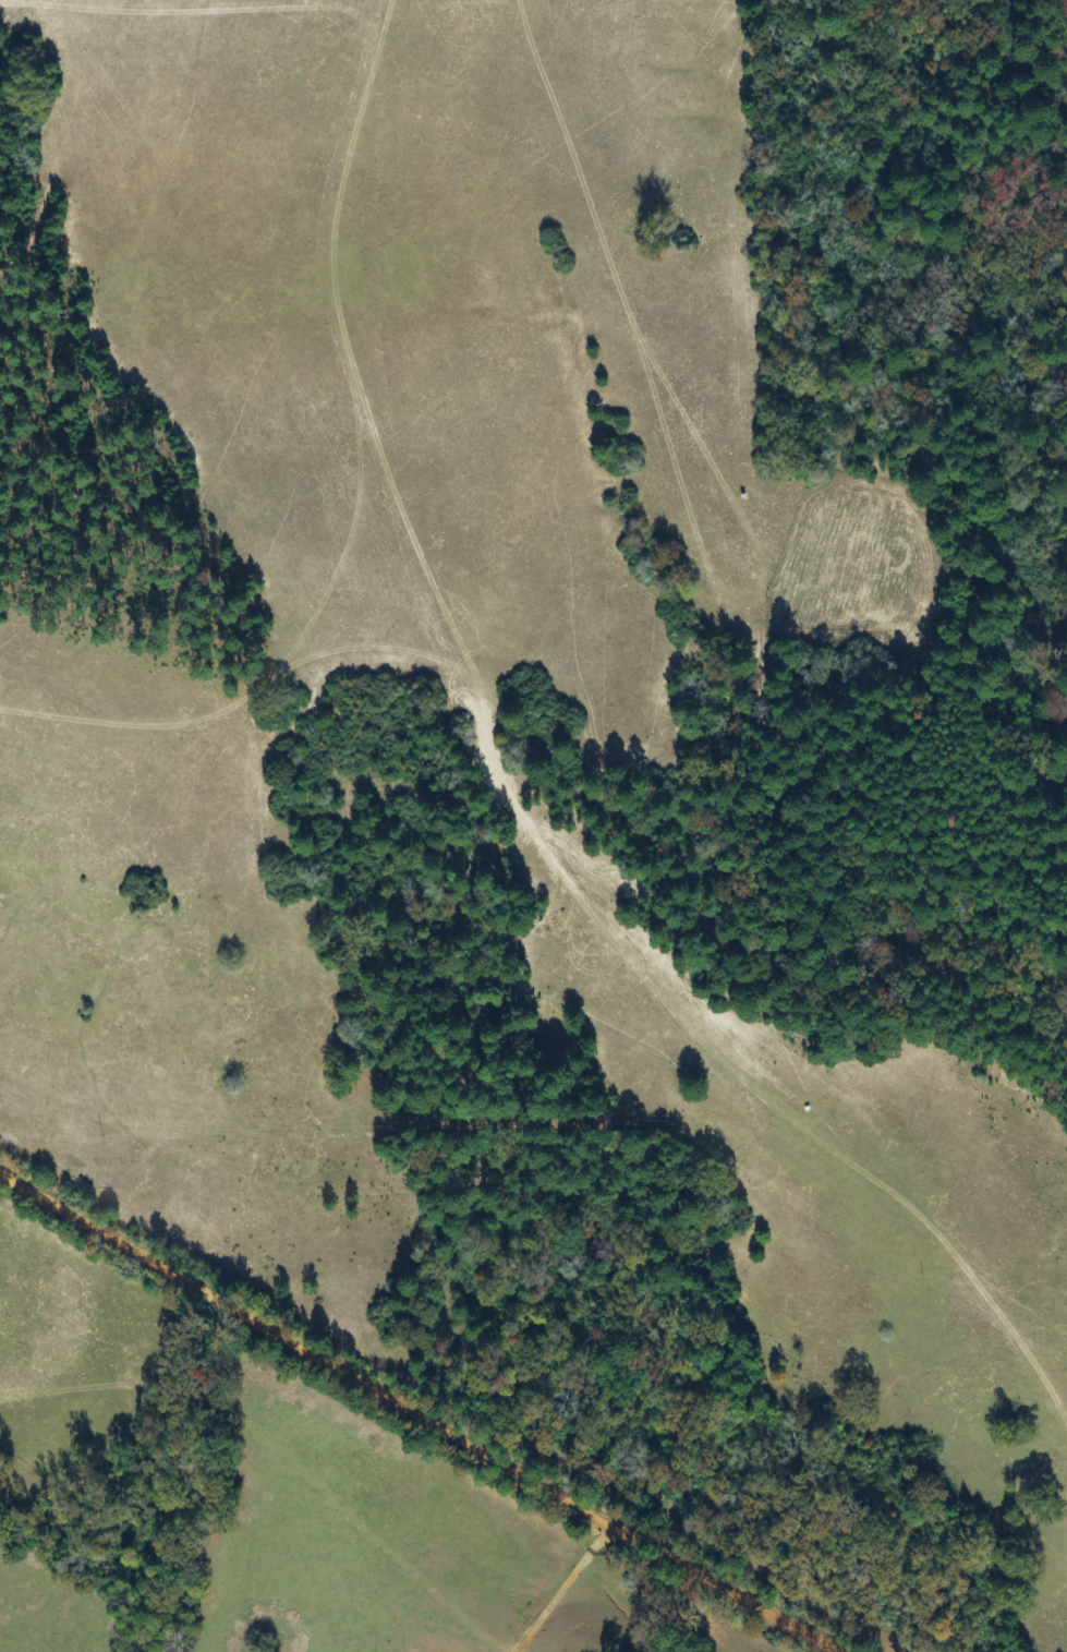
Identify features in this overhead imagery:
road: (397, 1426)
road: (546, 1603)

